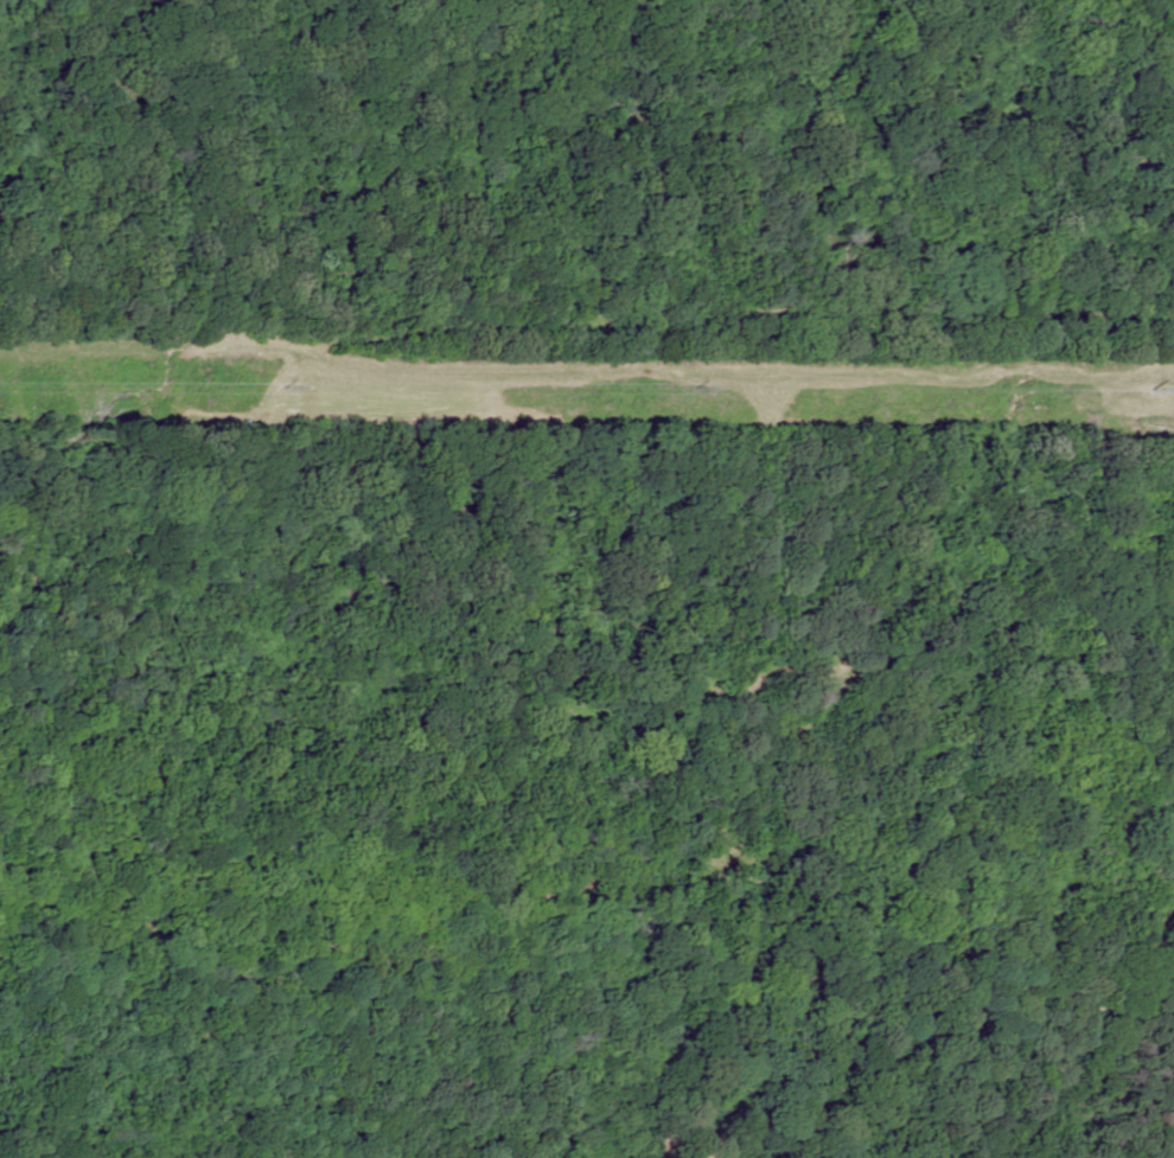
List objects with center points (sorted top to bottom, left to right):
power tower: (283, 389)
power tower: (698, 390)
road: (1125, 954)

